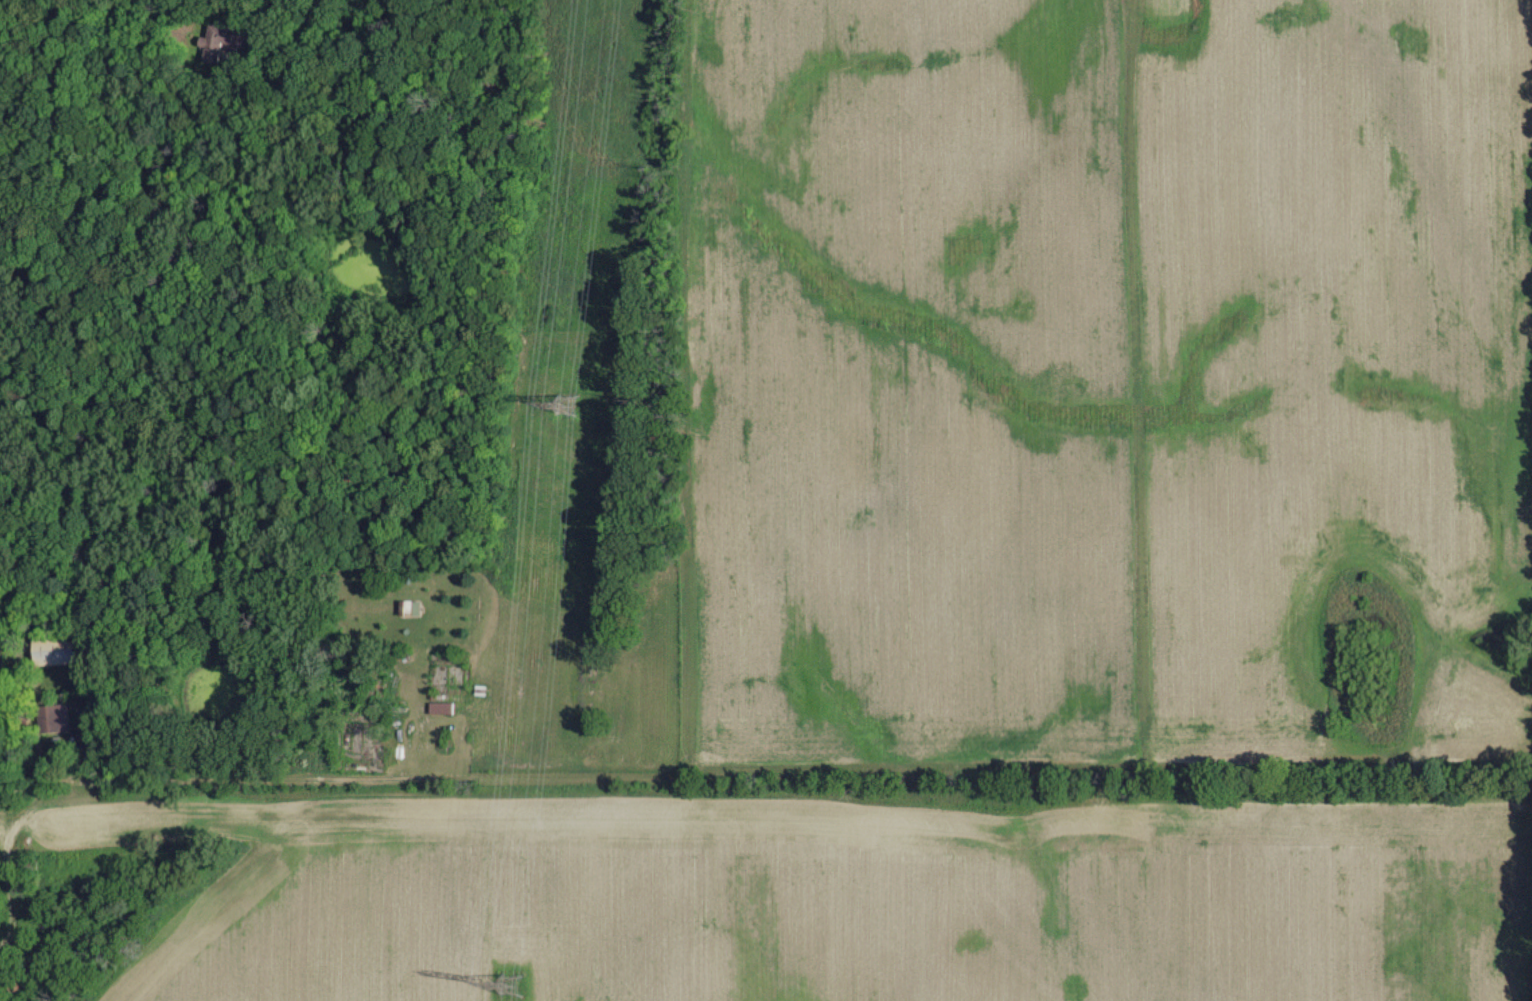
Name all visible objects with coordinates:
building: (222, 40)
road: (237, 78)
road: (73, 221)
power tower: (567, 404)
building: (411, 607)
building: (57, 648)
building: (54, 717)
power tower: (514, 984)

